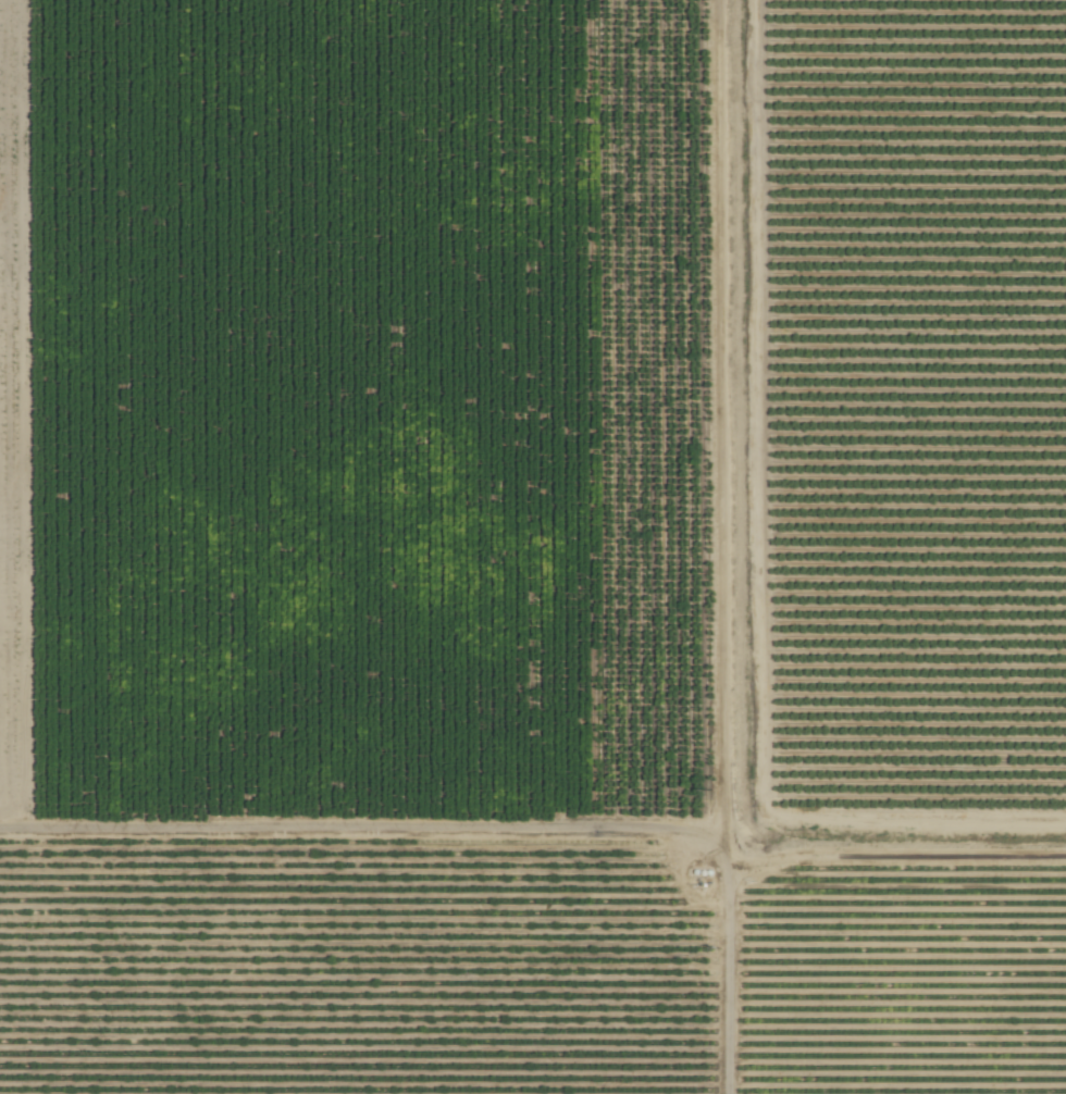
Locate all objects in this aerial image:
crop: (912, 545)
road: (718, 546)

